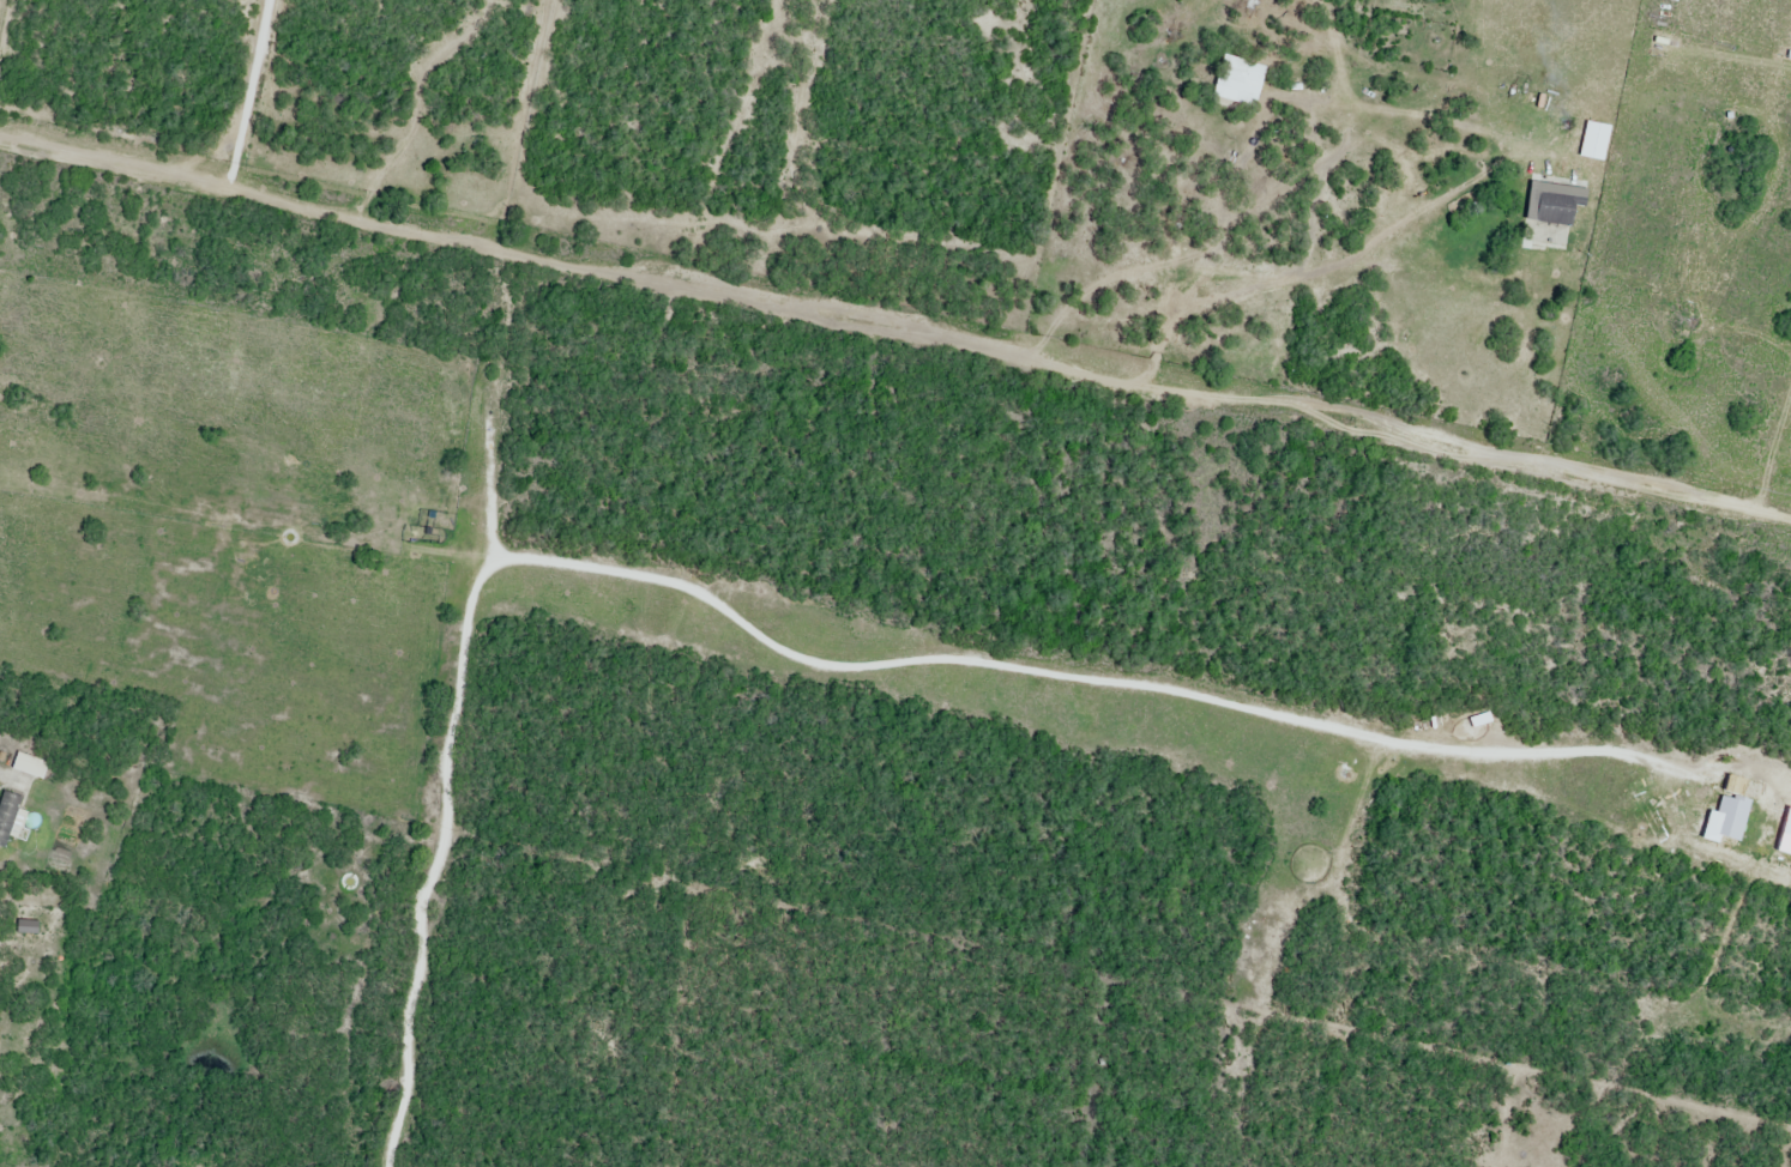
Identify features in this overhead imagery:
building: (1241, 85)
building: (1551, 202)
road: (894, 332)
building: (30, 766)
building: (7, 816)

